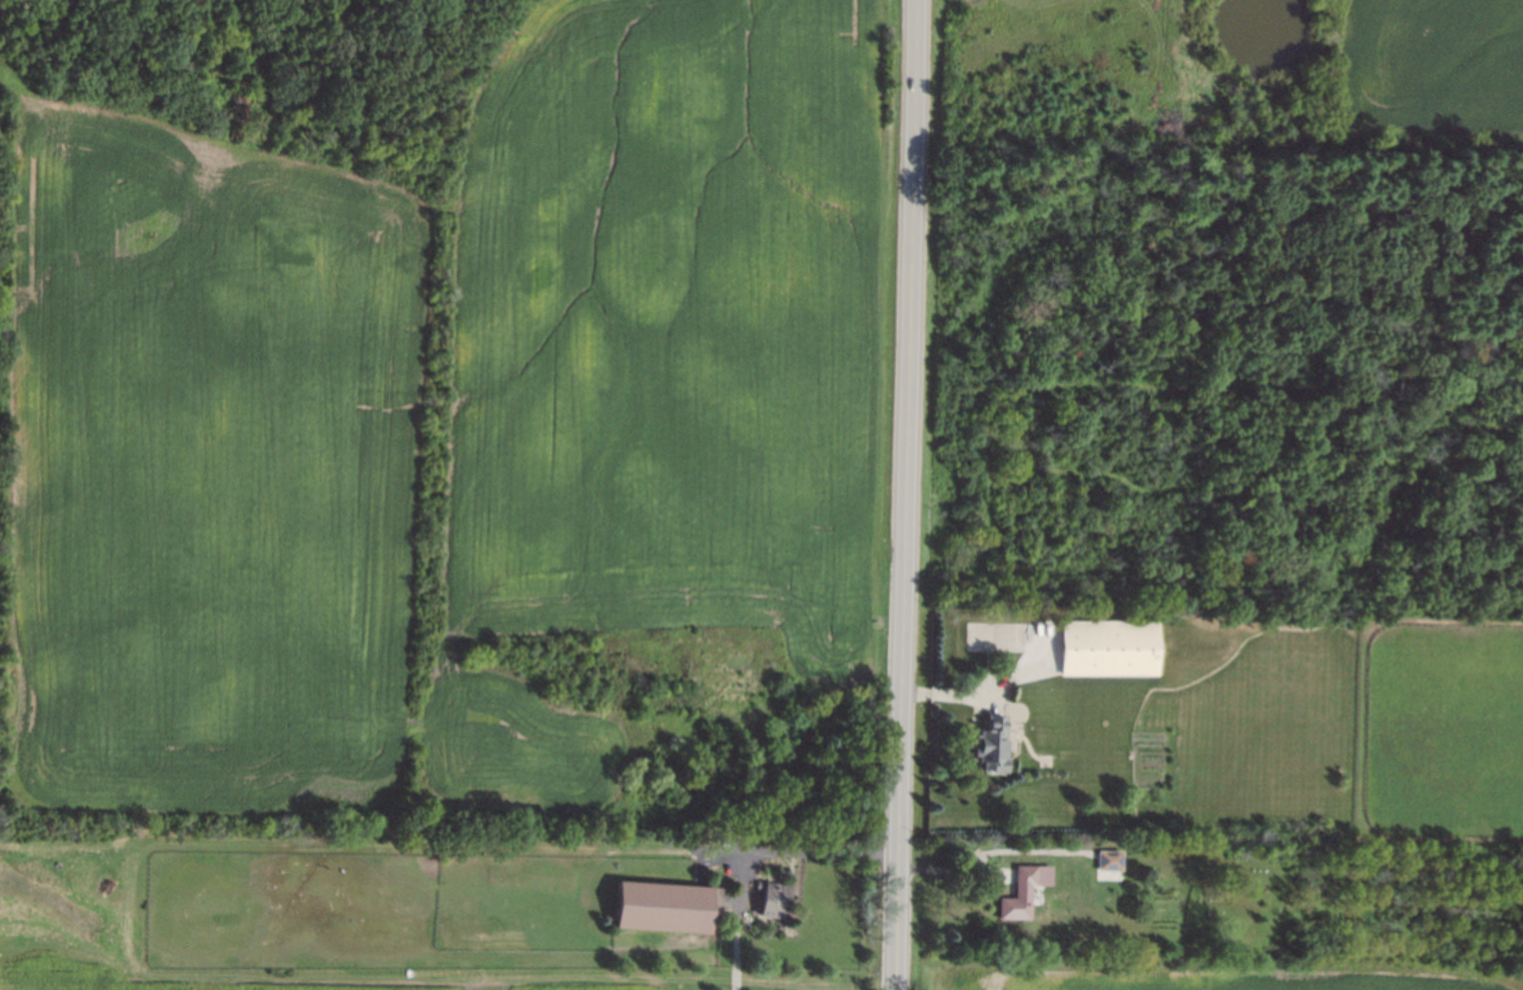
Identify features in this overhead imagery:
crop: (1433, 67)
crop: (676, 326)
crop: (211, 466)
road: (908, 495)
park: (997, 637)
building: (1118, 649)
road: (988, 682)
crop: (1446, 730)
crop: (1256, 735)
crop: (563, 744)
building: (993, 746)
road: (814, 849)
road: (954, 872)
building: (1023, 892)
building: (775, 899)
building: (667, 908)
crop: (317, 916)
crop: (50, 927)
crop: (1207, 975)

